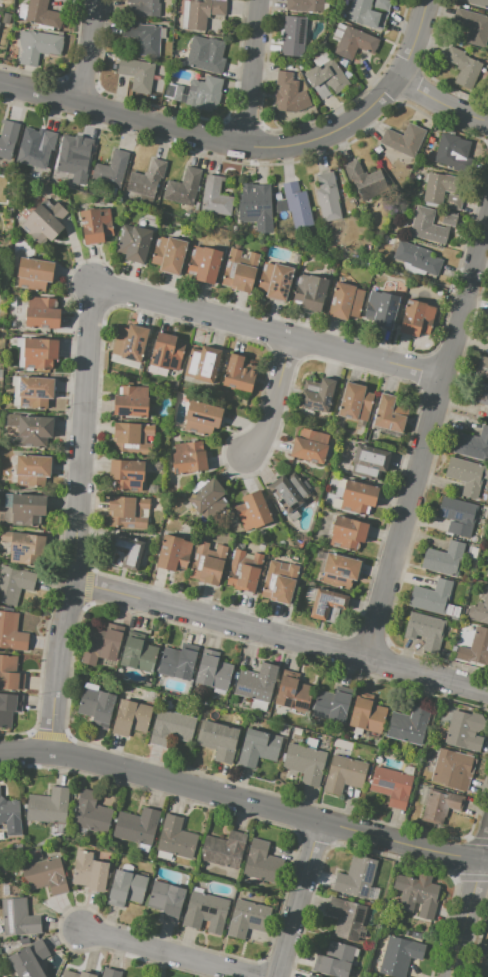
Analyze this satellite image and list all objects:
building: (477, 2)
building: (381, 4)
building: (305, 5)
building: (144, 7)
building: (203, 12)
building: (42, 14)
building: (365, 14)
building: (6, 18)
building: (474, 27)
building: (294, 35)
building: (143, 36)
road: (418, 40)
building: (354, 43)
building: (38, 47)
road: (89, 51)
building: (203, 56)
building: (466, 68)
building: (137, 73)
road: (253, 73)
building: (326, 76)
building: (200, 93)
building: (289, 94)
road: (442, 104)
road: (207, 137)
building: (8, 138)
building: (404, 139)
building: (37, 150)
building: (450, 153)
building: (70, 156)
building: (110, 169)
building: (146, 179)
building: (365, 180)
building: (440, 187)
building: (183, 188)
building: (215, 196)
building: (328, 197)
building: (453, 201)
building: (256, 204)
building: (297, 205)
building: (449, 219)
building: (44, 221)
building: (95, 225)
building: (427, 226)
building: (133, 243)
building: (168, 254)
building: (418, 258)
building: (204, 264)
building: (240, 270)
building: (34, 273)
building: (275, 280)
building: (310, 291)
building: (345, 301)
building: (380, 308)
building: (41, 313)
building: (416, 318)
road: (270, 331)
building: (487, 335)
building: (129, 342)
building: (36, 352)
building: (166, 352)
building: (202, 364)
building: (483, 367)
building: (1, 373)
building: (239, 374)
building: (35, 392)
building: (477, 392)
building: (317, 394)
road: (275, 398)
building: (131, 401)
building: (354, 402)
building: (389, 414)
building: (486, 414)
building: (201, 417)
building: (31, 429)
road: (85, 434)
building: (131, 437)
road: (428, 438)
building: (310, 445)
building: (472, 445)
building: (188, 457)
building: (369, 461)
building: (31, 469)
building: (126, 475)
building: (465, 475)
building: (288, 492)
building: (357, 497)
building: (208, 499)
building: (24, 508)
building: (127, 511)
building: (254, 511)
building: (459, 515)
building: (347, 532)
building: (24, 547)
building: (125, 551)
building: (173, 552)
building: (443, 558)
building: (207, 563)
building: (485, 569)
building: (340, 570)
building: (244, 571)
building: (279, 582)
building: (15, 584)
building: (432, 598)
building: (327, 605)
building: (479, 610)
road: (198, 616)
building: (425, 629)
building: (11, 632)
building: (101, 644)
building: (475, 648)
building: (138, 655)
building: (177, 663)
building: (213, 671)
building: (10, 673)
building: (256, 682)
building: (293, 694)
building: (96, 706)
building: (331, 706)
building: (9, 708)
building: (367, 716)
building: (131, 718)
building: (409, 725)
building: (171, 727)
building: (465, 730)
building: (296, 731)
building: (218, 738)
building: (311, 743)
building: (258, 747)
building: (305, 763)
building: (453, 768)
building: (344, 774)
building: (391, 785)
road: (244, 802)
building: (48, 805)
building: (440, 805)
building: (91, 813)
building: (10, 816)
building: (136, 826)
building: (176, 838)
building: (223, 849)
building: (262, 863)
building: (89, 871)
building: (46, 875)
building: (356, 877)
building: (126, 888)
building: (418, 894)
building: (166, 900)
road: (299, 900)
road: (469, 907)
building: (205, 911)
building: (19, 917)
building: (247, 918)
building: (347, 919)
building: (415, 935)
road: (171, 953)
building: (398, 956)
building: (29, 959)
building: (334, 960)
building: (484, 971)
building: (110, 973)
building: (76, 974)
building: (313, 976)

